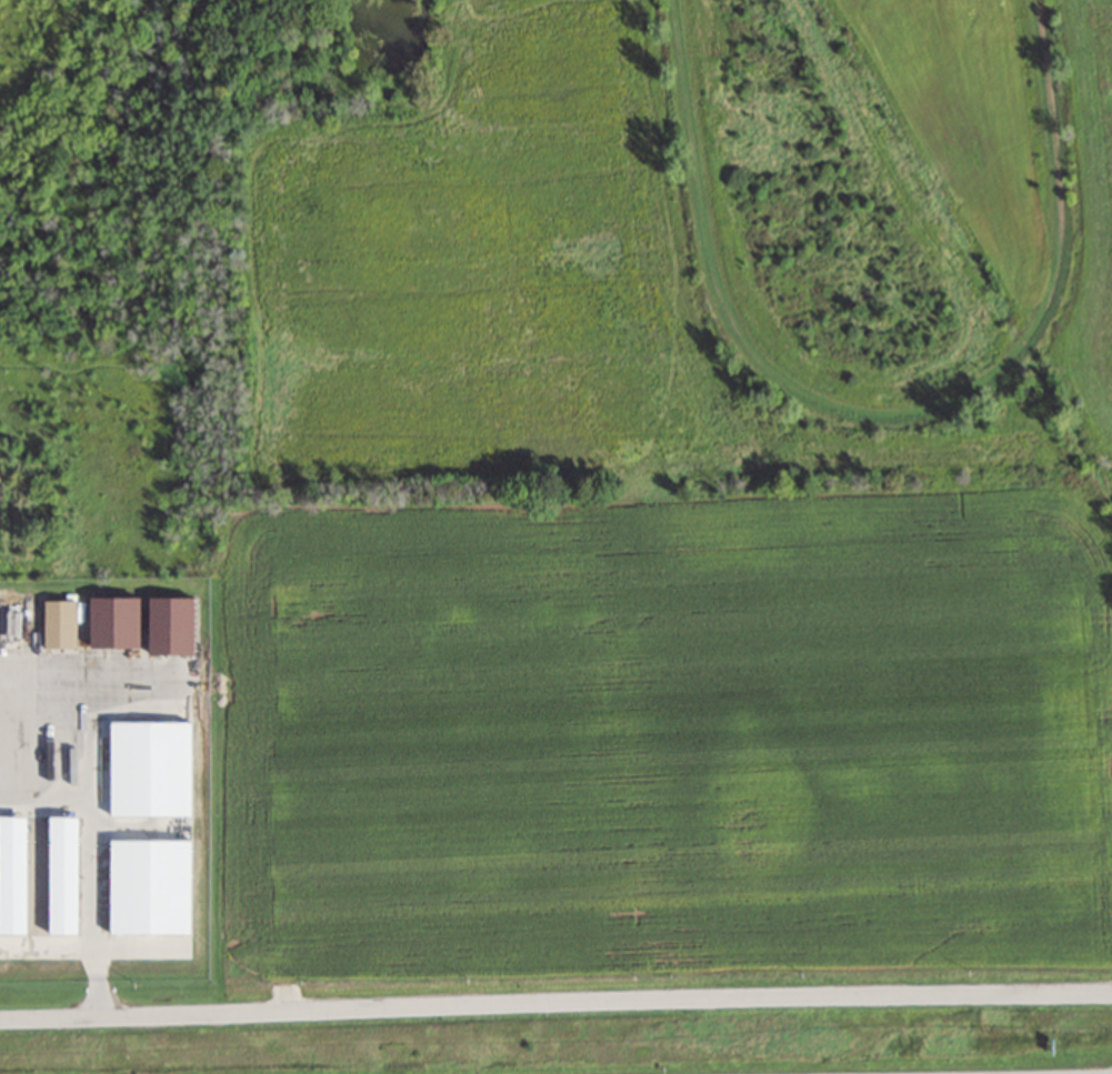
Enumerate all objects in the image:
building: (123, 622)
building: (66, 623)
building: (180, 625)
road: (92, 861)
road: (555, 1004)

